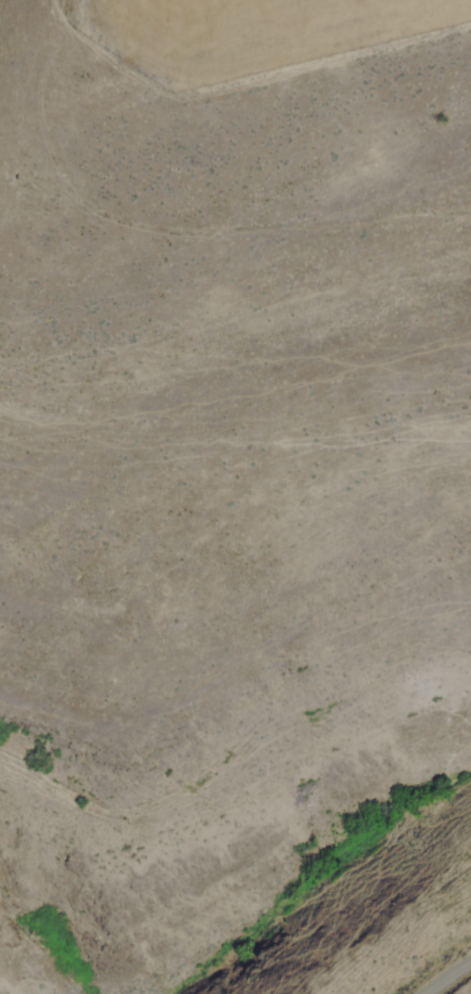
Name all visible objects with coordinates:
road: (446, 976)

